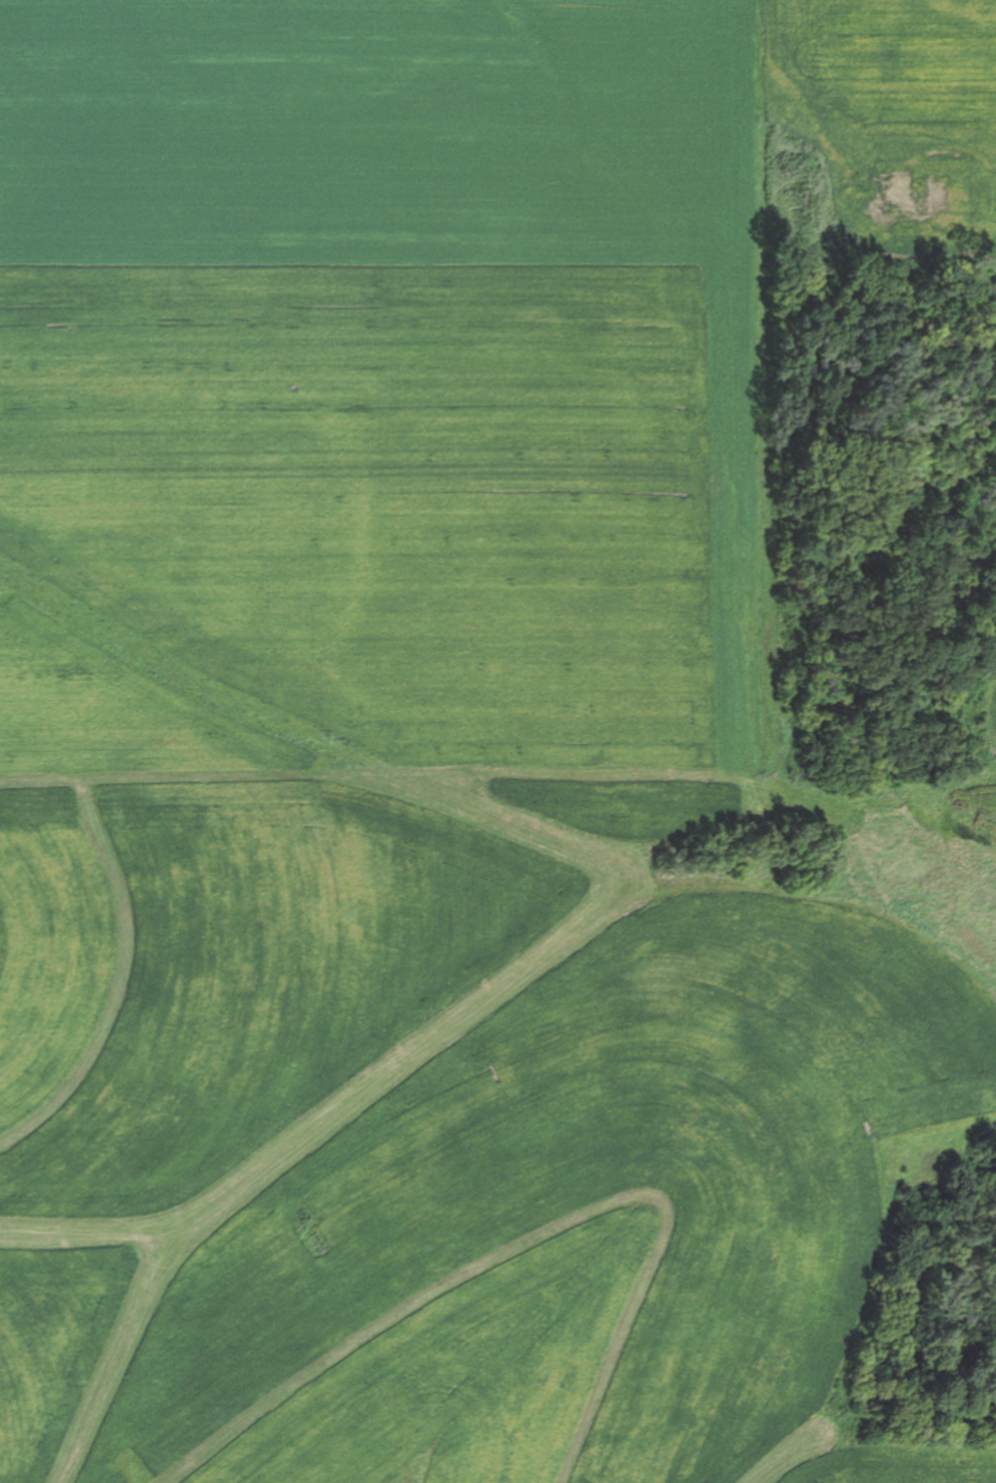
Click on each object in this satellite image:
road: (950, 1410)

